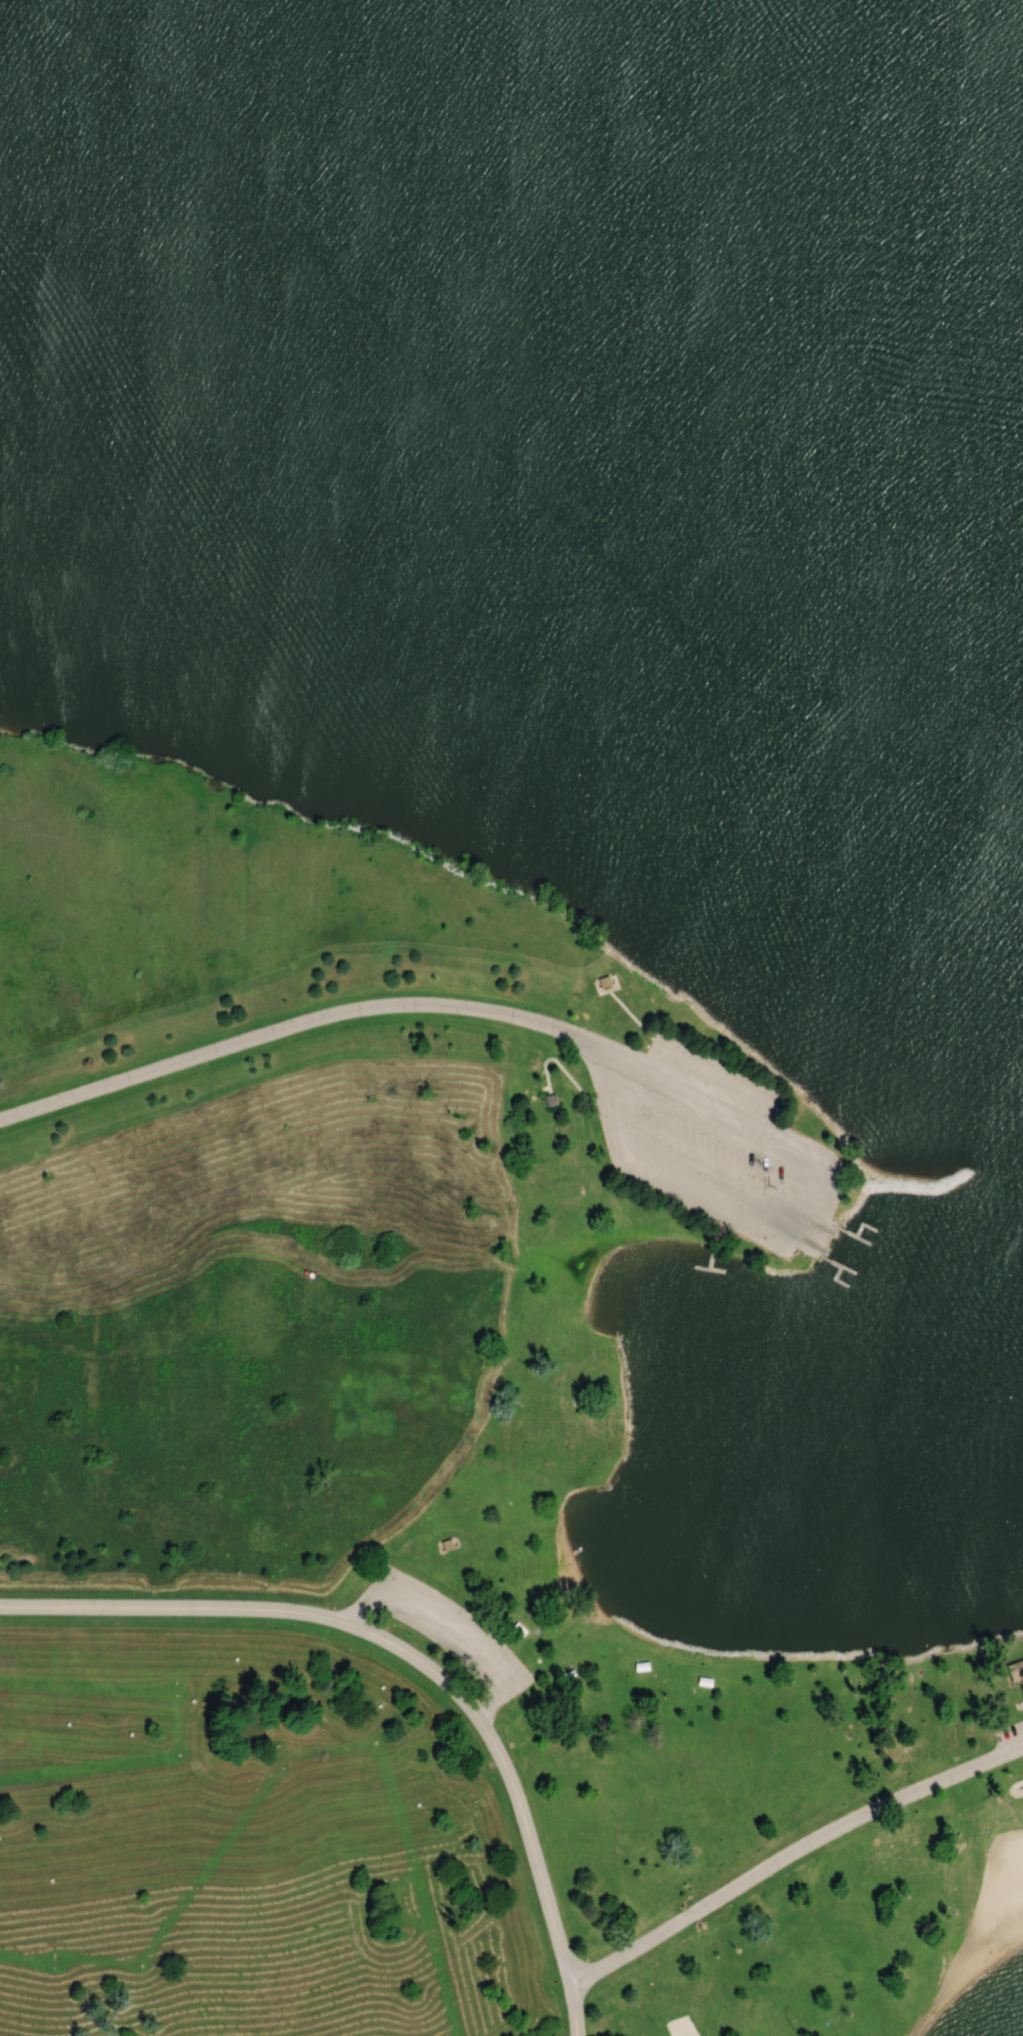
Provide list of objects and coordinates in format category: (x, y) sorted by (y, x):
park: (511, 1018)
road: (294, 1025)
road: (607, 1092)
road: (823, 1241)
road: (173, 1607)
road: (418, 1661)
road: (416, 1665)
building: (1016, 1671)
road: (497, 1756)
road: (519, 1801)
road: (791, 1853)
road: (967, 1908)

